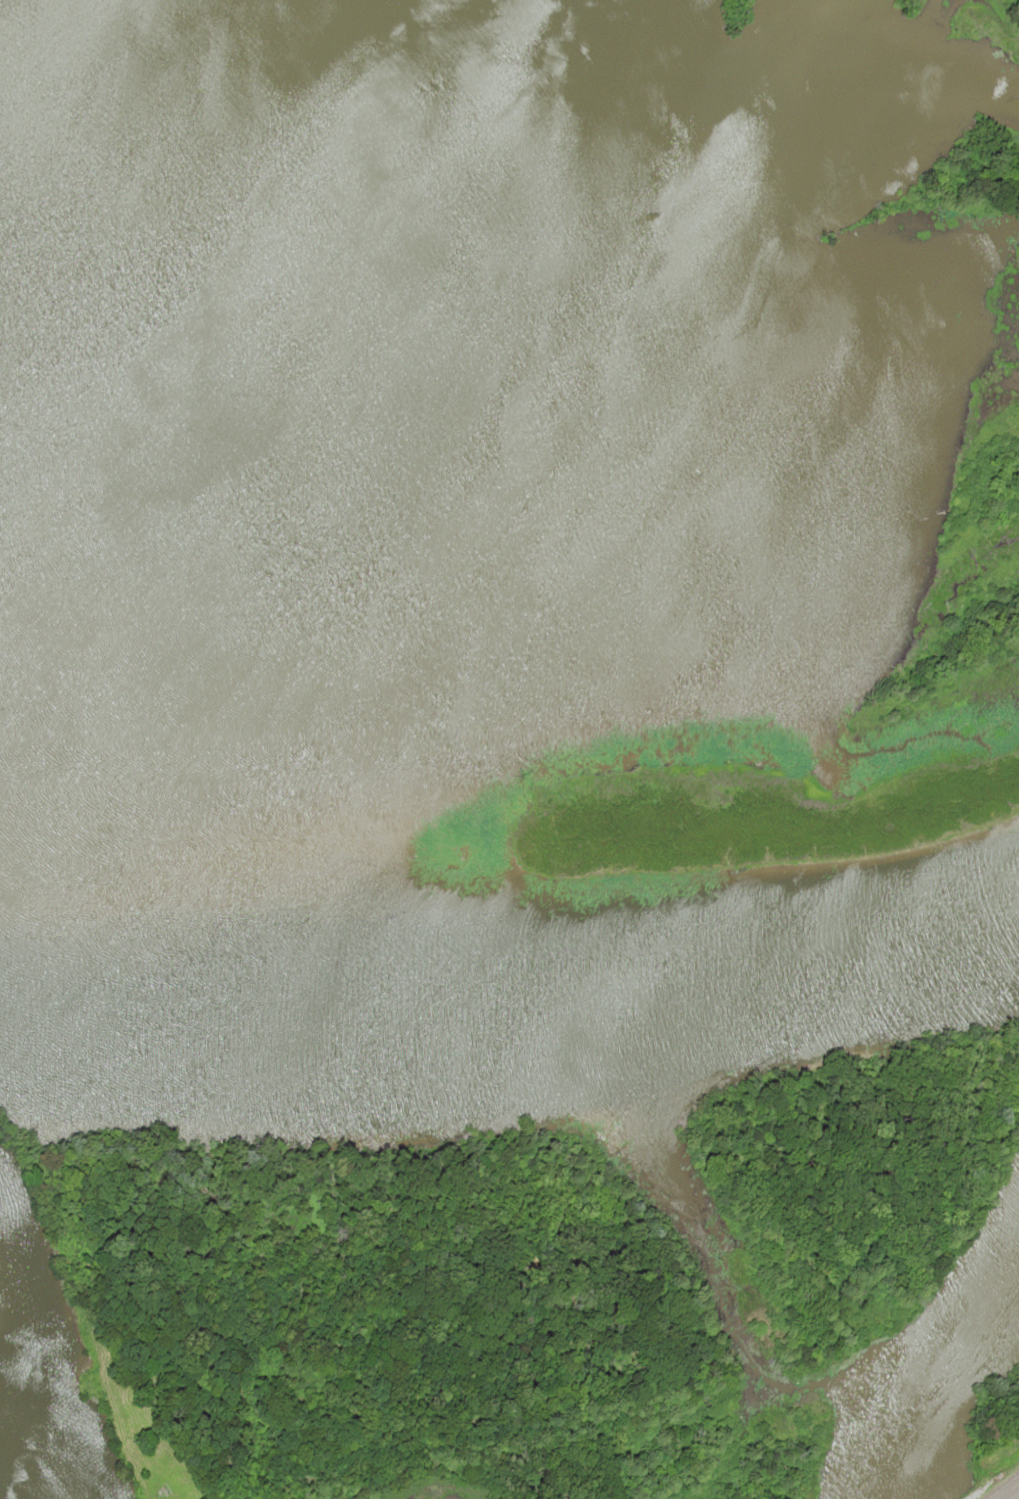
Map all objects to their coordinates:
road: (1007, 1489)

